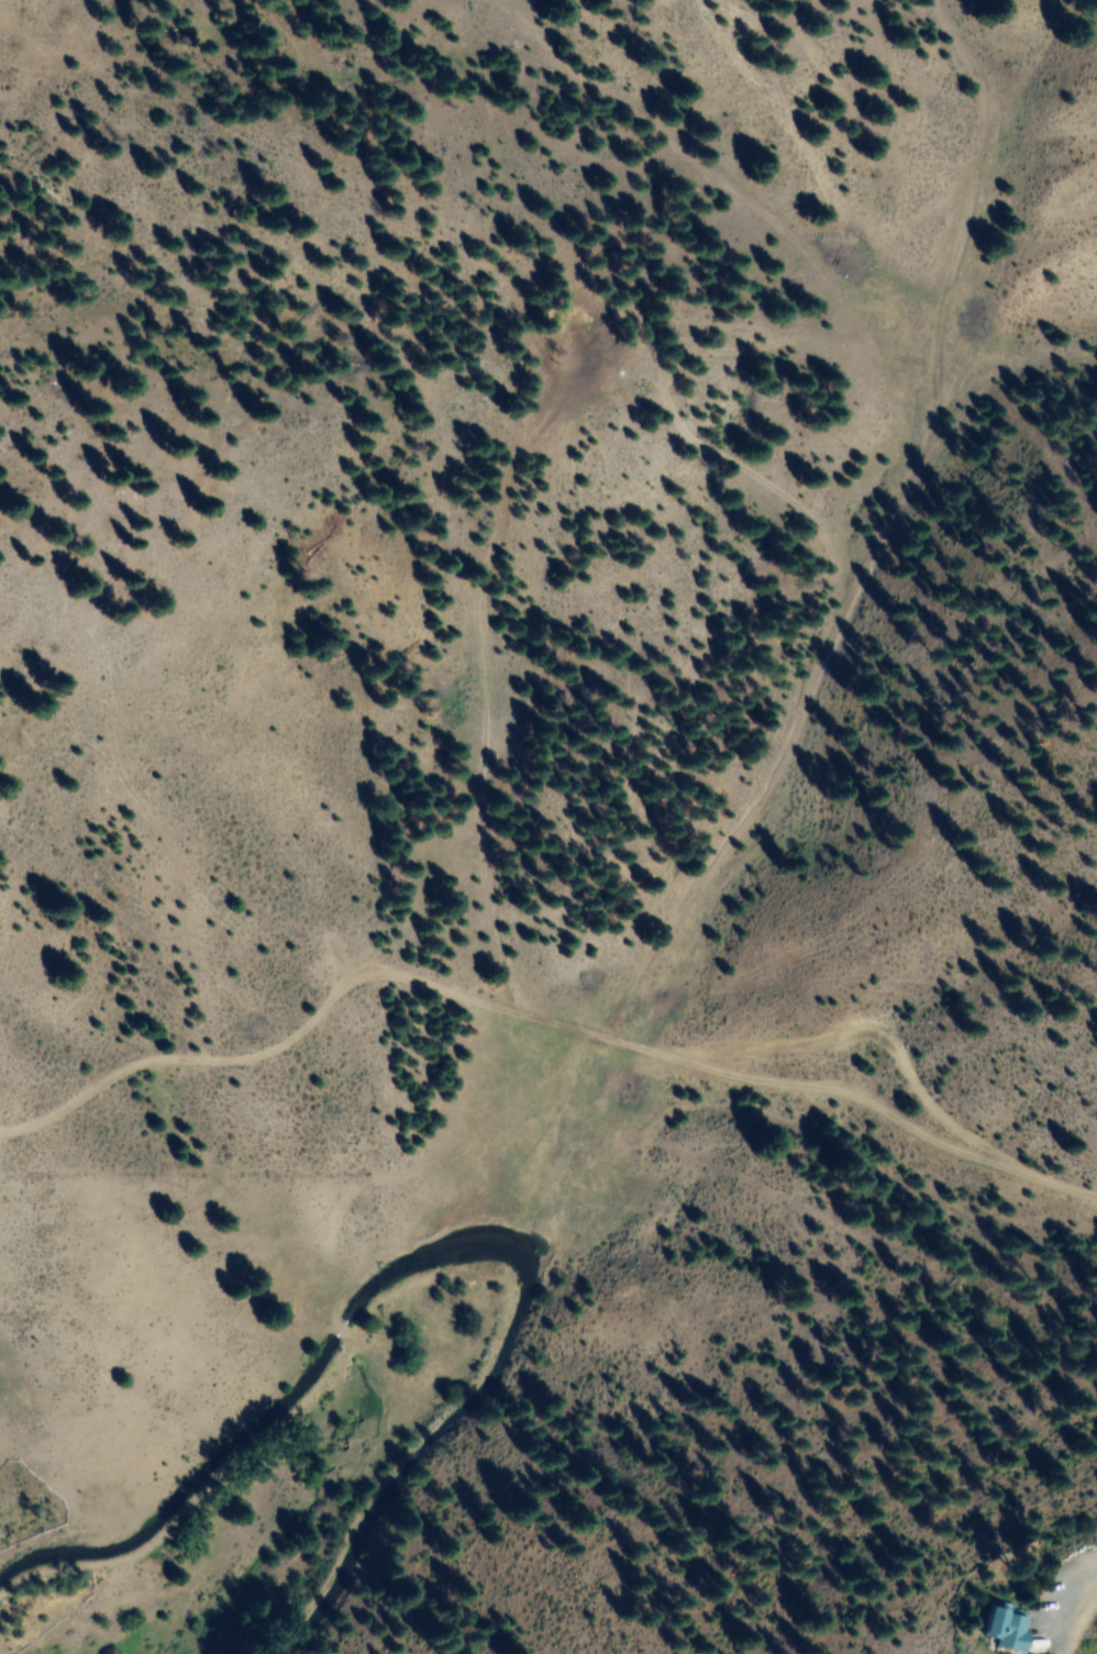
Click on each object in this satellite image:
road: (702, 753)
building: (1010, 1628)

